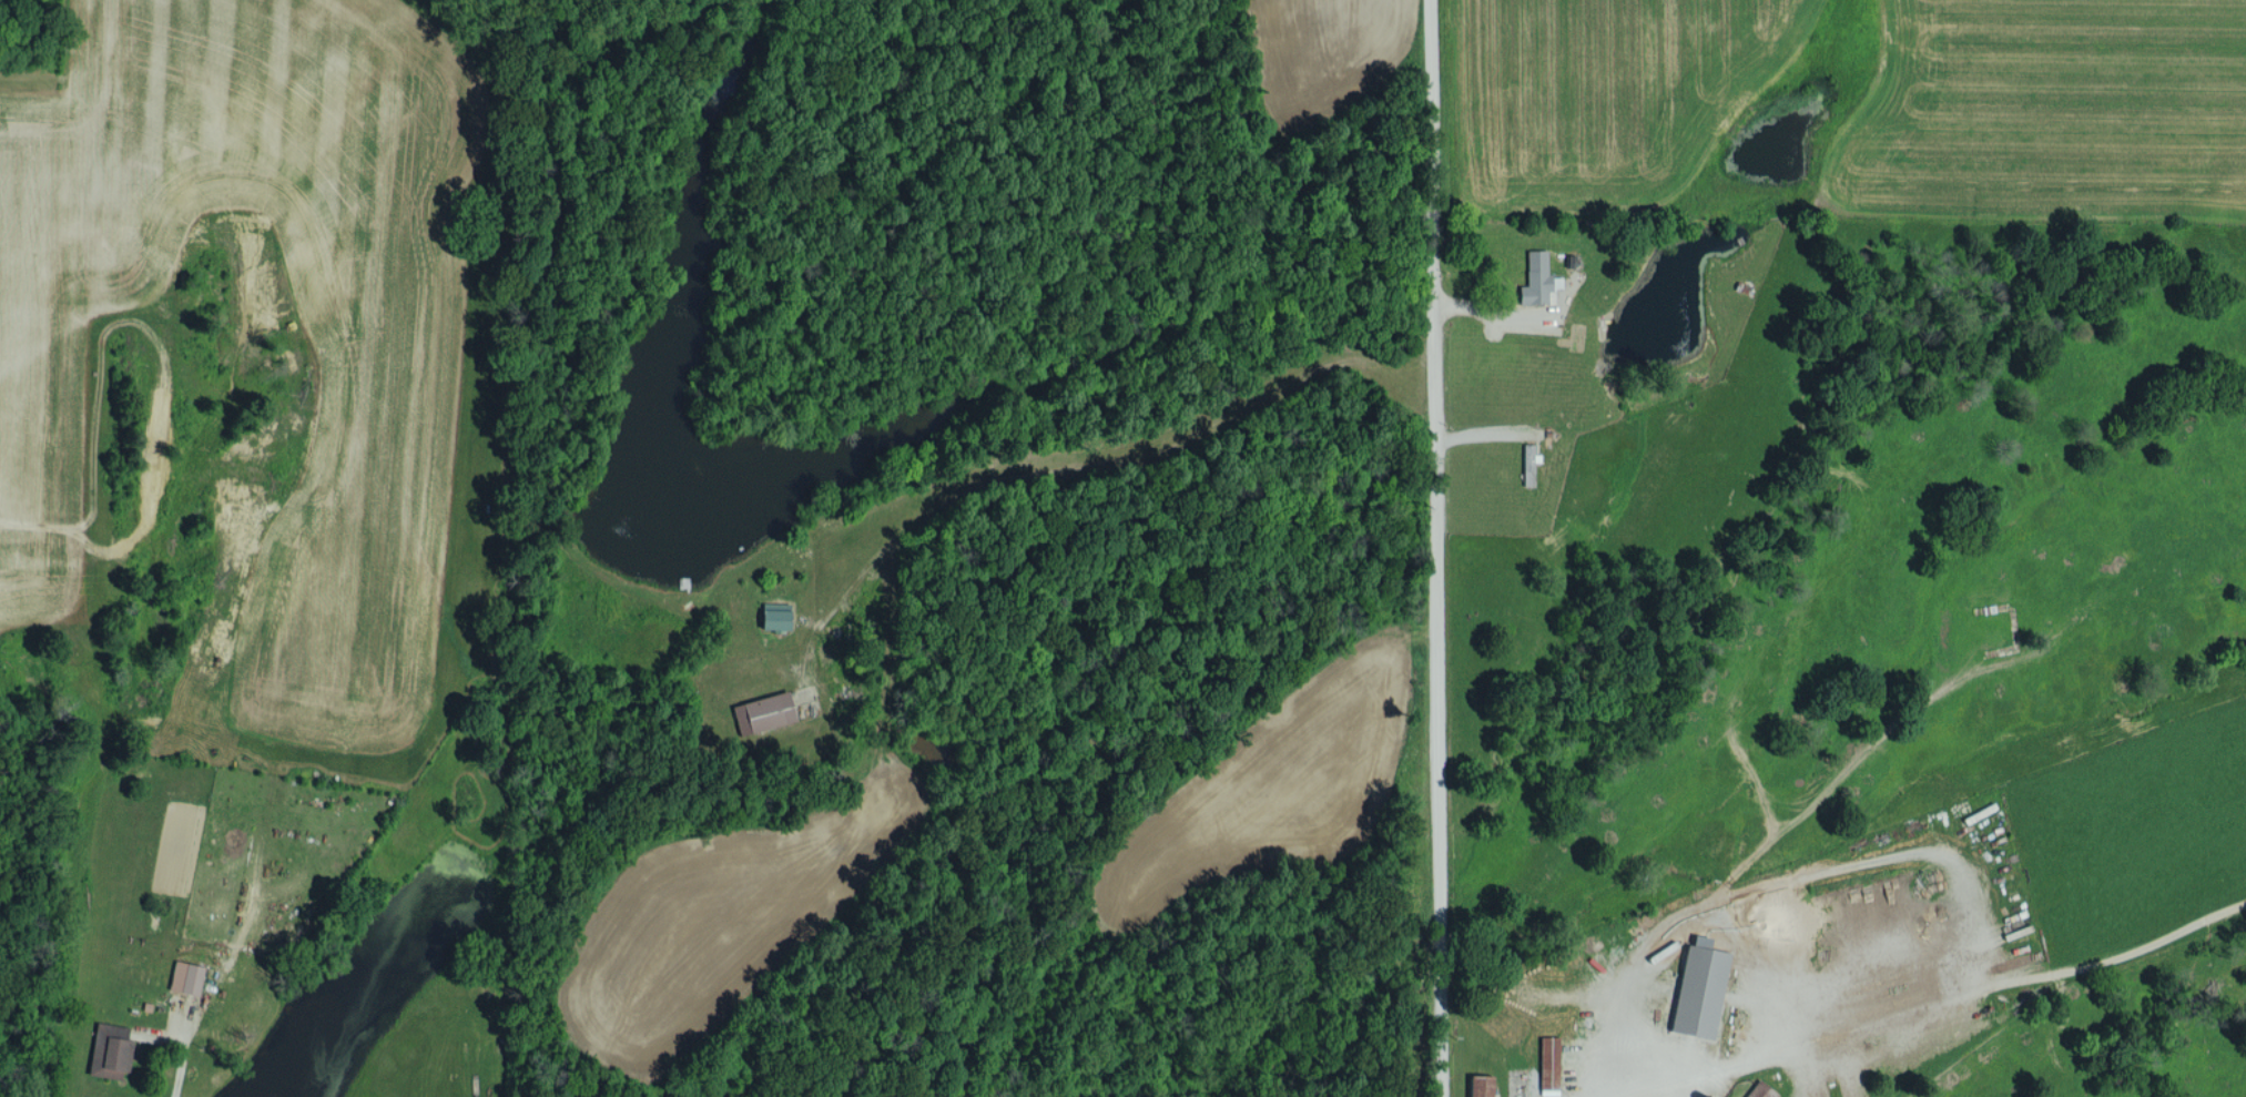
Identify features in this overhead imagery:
building: (1536, 278)
road: (1440, 548)
building: (771, 618)
building: (761, 712)
building: (183, 977)
building: (1697, 988)
building: (1547, 1062)
building: (1477, 1086)
building: (1759, 1090)

